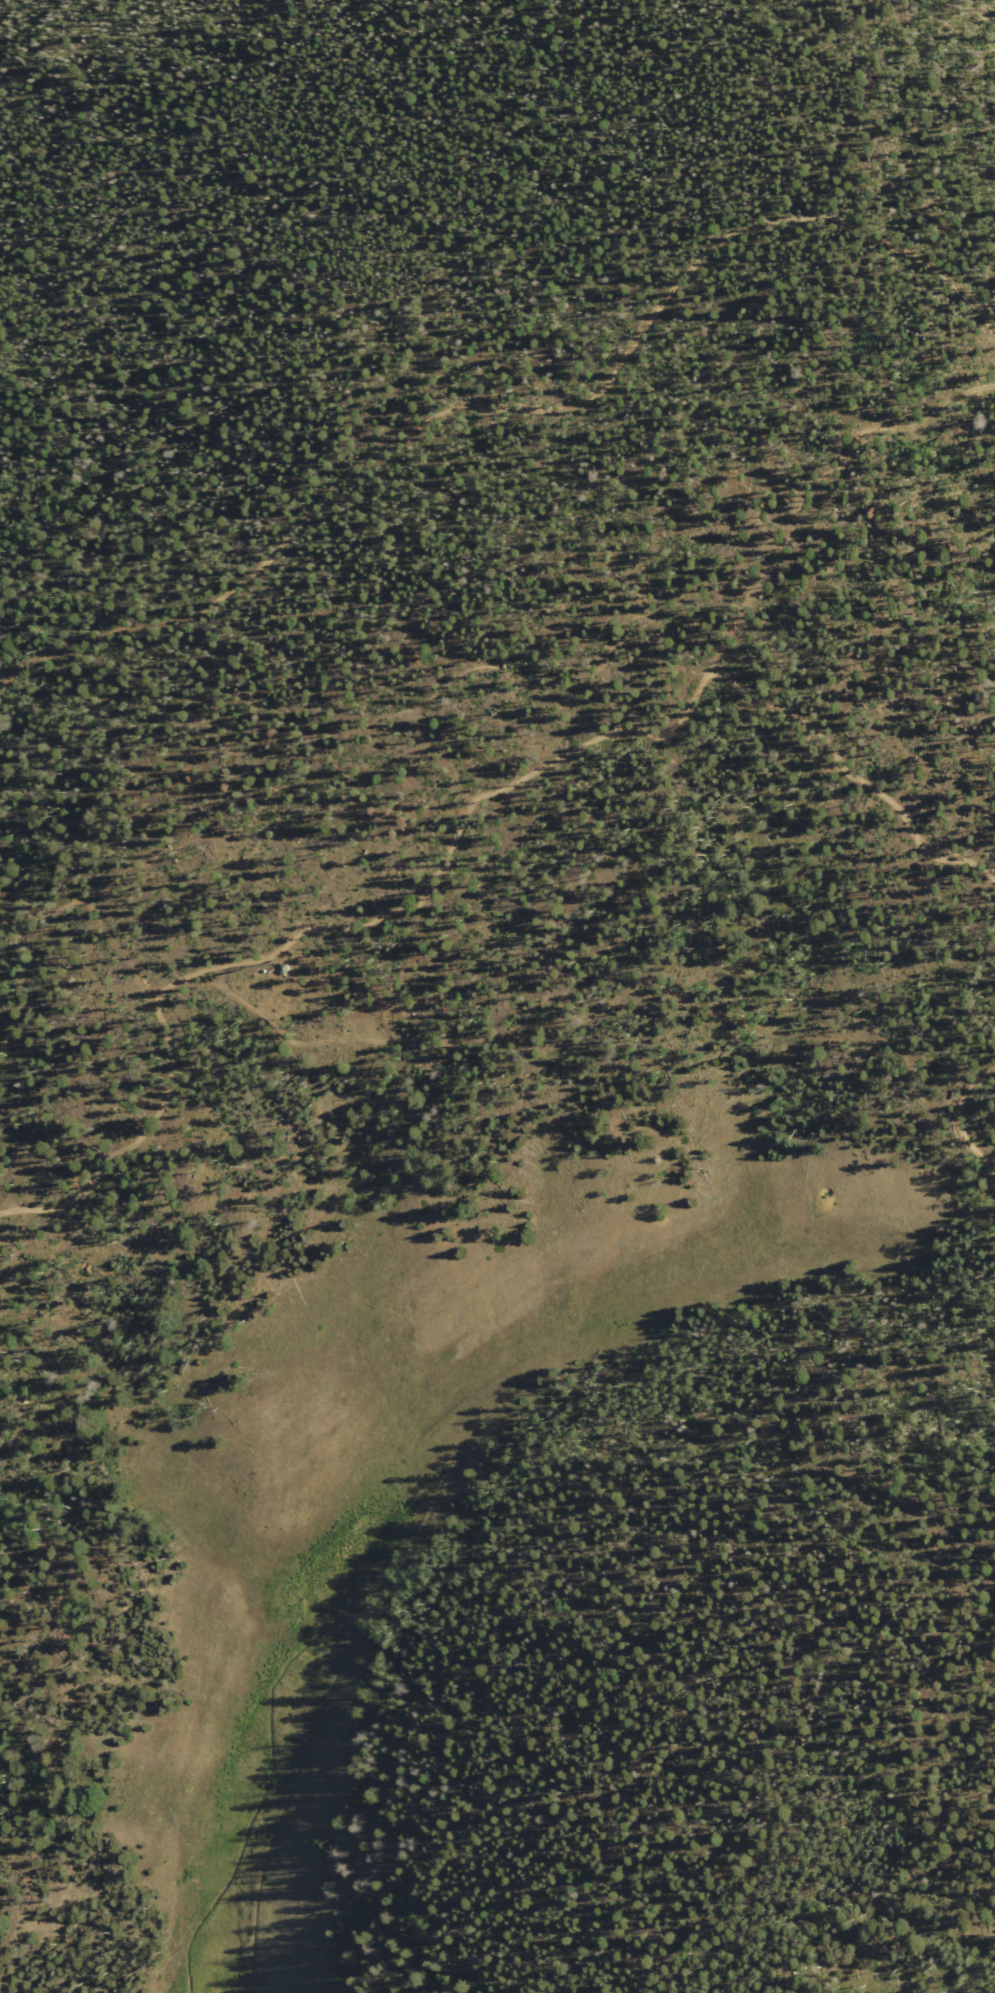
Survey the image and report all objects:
road: (508, 388)
road: (812, 474)
park: (545, 716)
road: (464, 823)
road: (38, 966)
road: (966, 1124)
road: (43, 1256)

